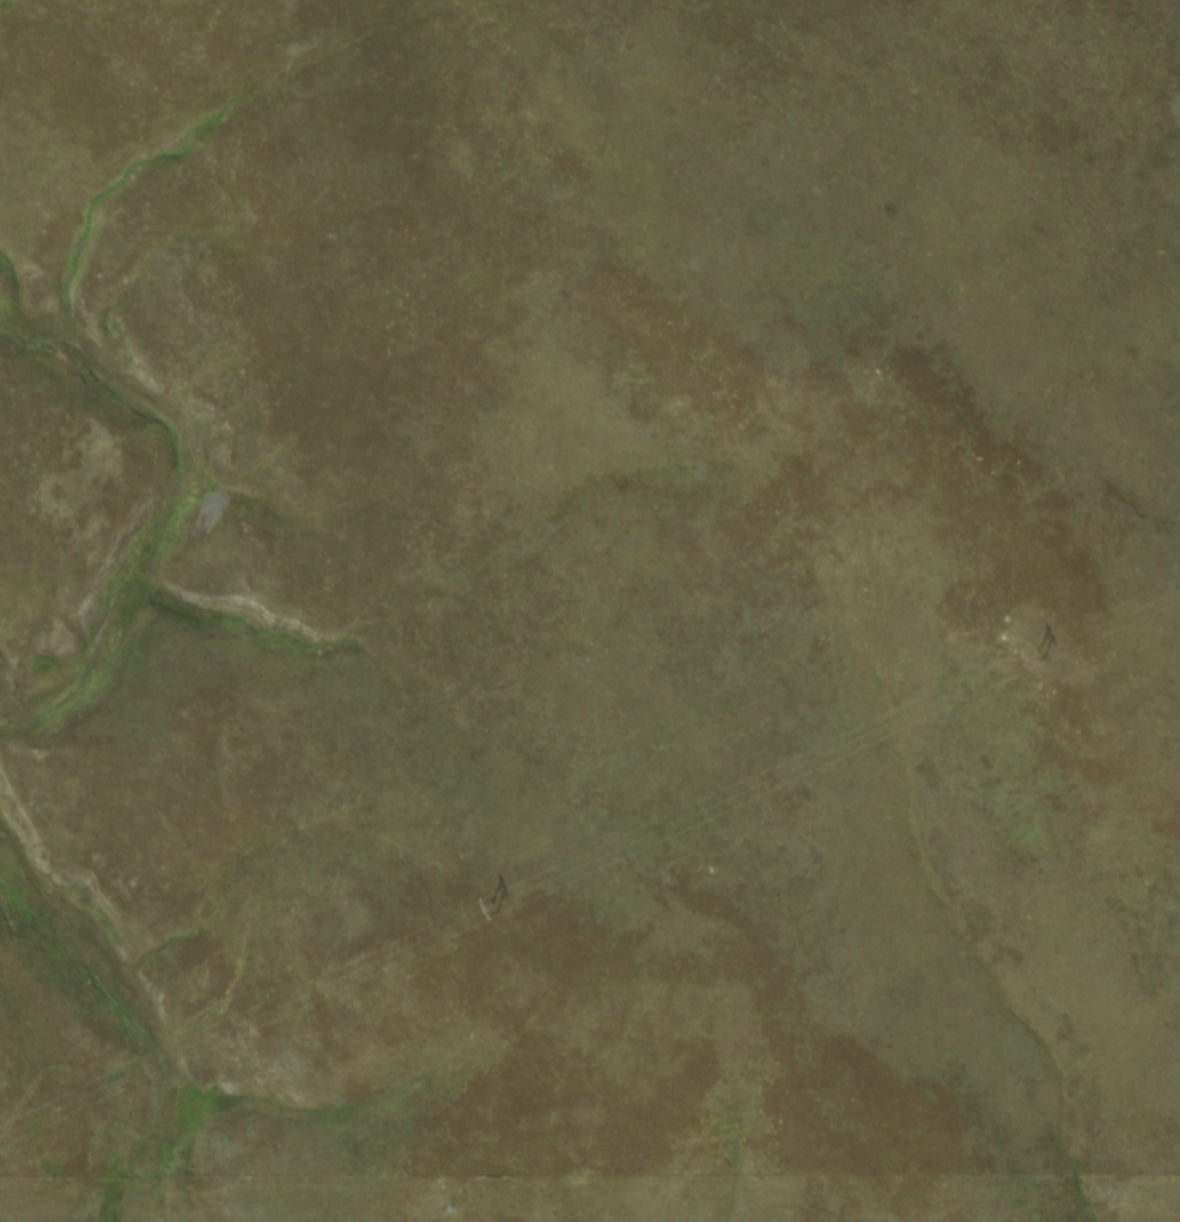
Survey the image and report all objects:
power tower: (1040, 652)
power tower: (485, 910)

